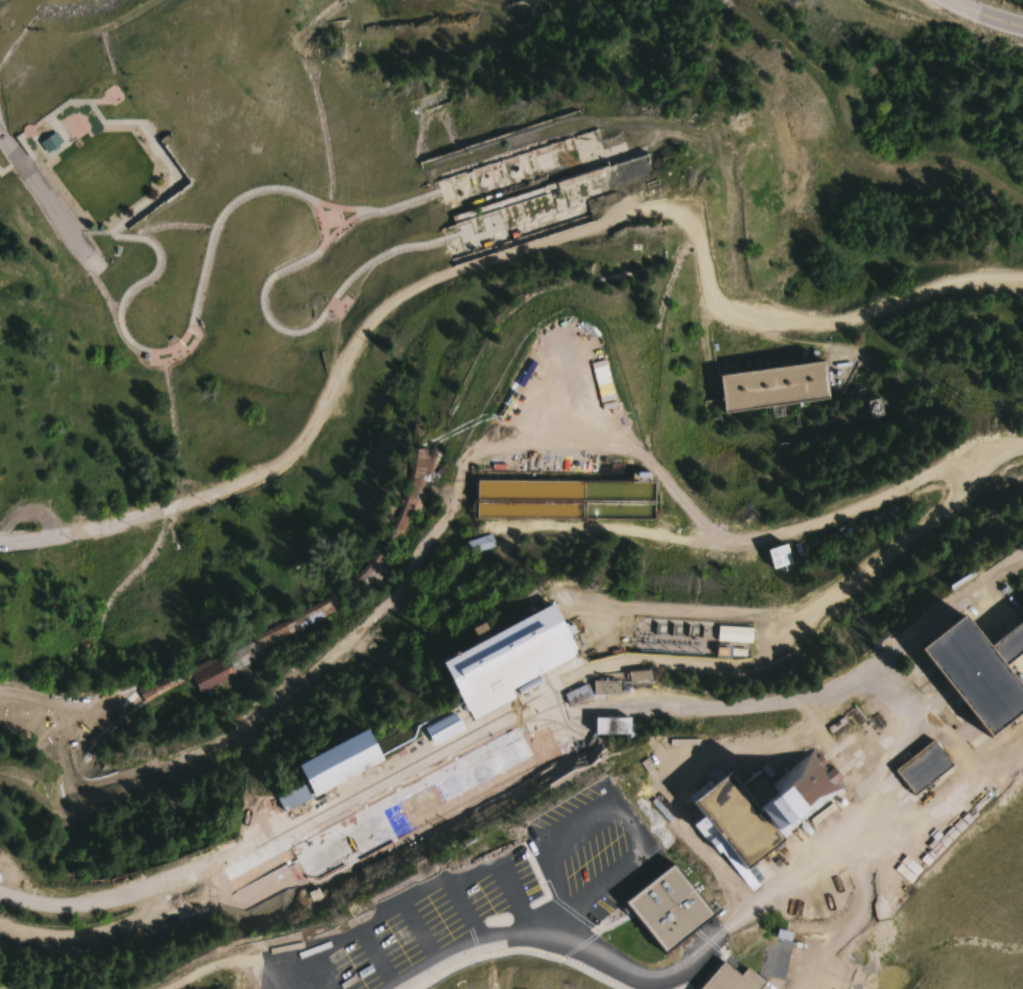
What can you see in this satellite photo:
road: (986, 15)
building: (50, 142)
road: (263, 188)
road: (41, 194)
road: (384, 210)
road: (346, 221)
road: (2, 282)
road: (848, 319)
road: (362, 328)
building: (772, 388)
building: (874, 408)
building: (565, 498)
road: (22, 538)
building: (479, 543)
building: (778, 557)
building: (956, 624)
road: (792, 632)
building: (733, 635)
building: (1008, 645)
road: (257, 655)
building: (506, 662)
building: (210, 673)
building: (973, 679)
road: (793, 689)
building: (611, 726)
road: (828, 738)
building: (899, 741)
road: (675, 760)
building: (338, 764)
building: (921, 768)
building: (745, 787)
road: (872, 787)
building: (291, 799)
building: (392, 817)
road: (263, 832)
building: (646, 883)
road: (123, 922)
road: (561, 934)
road: (242, 963)
building: (696, 966)
building: (727, 978)

